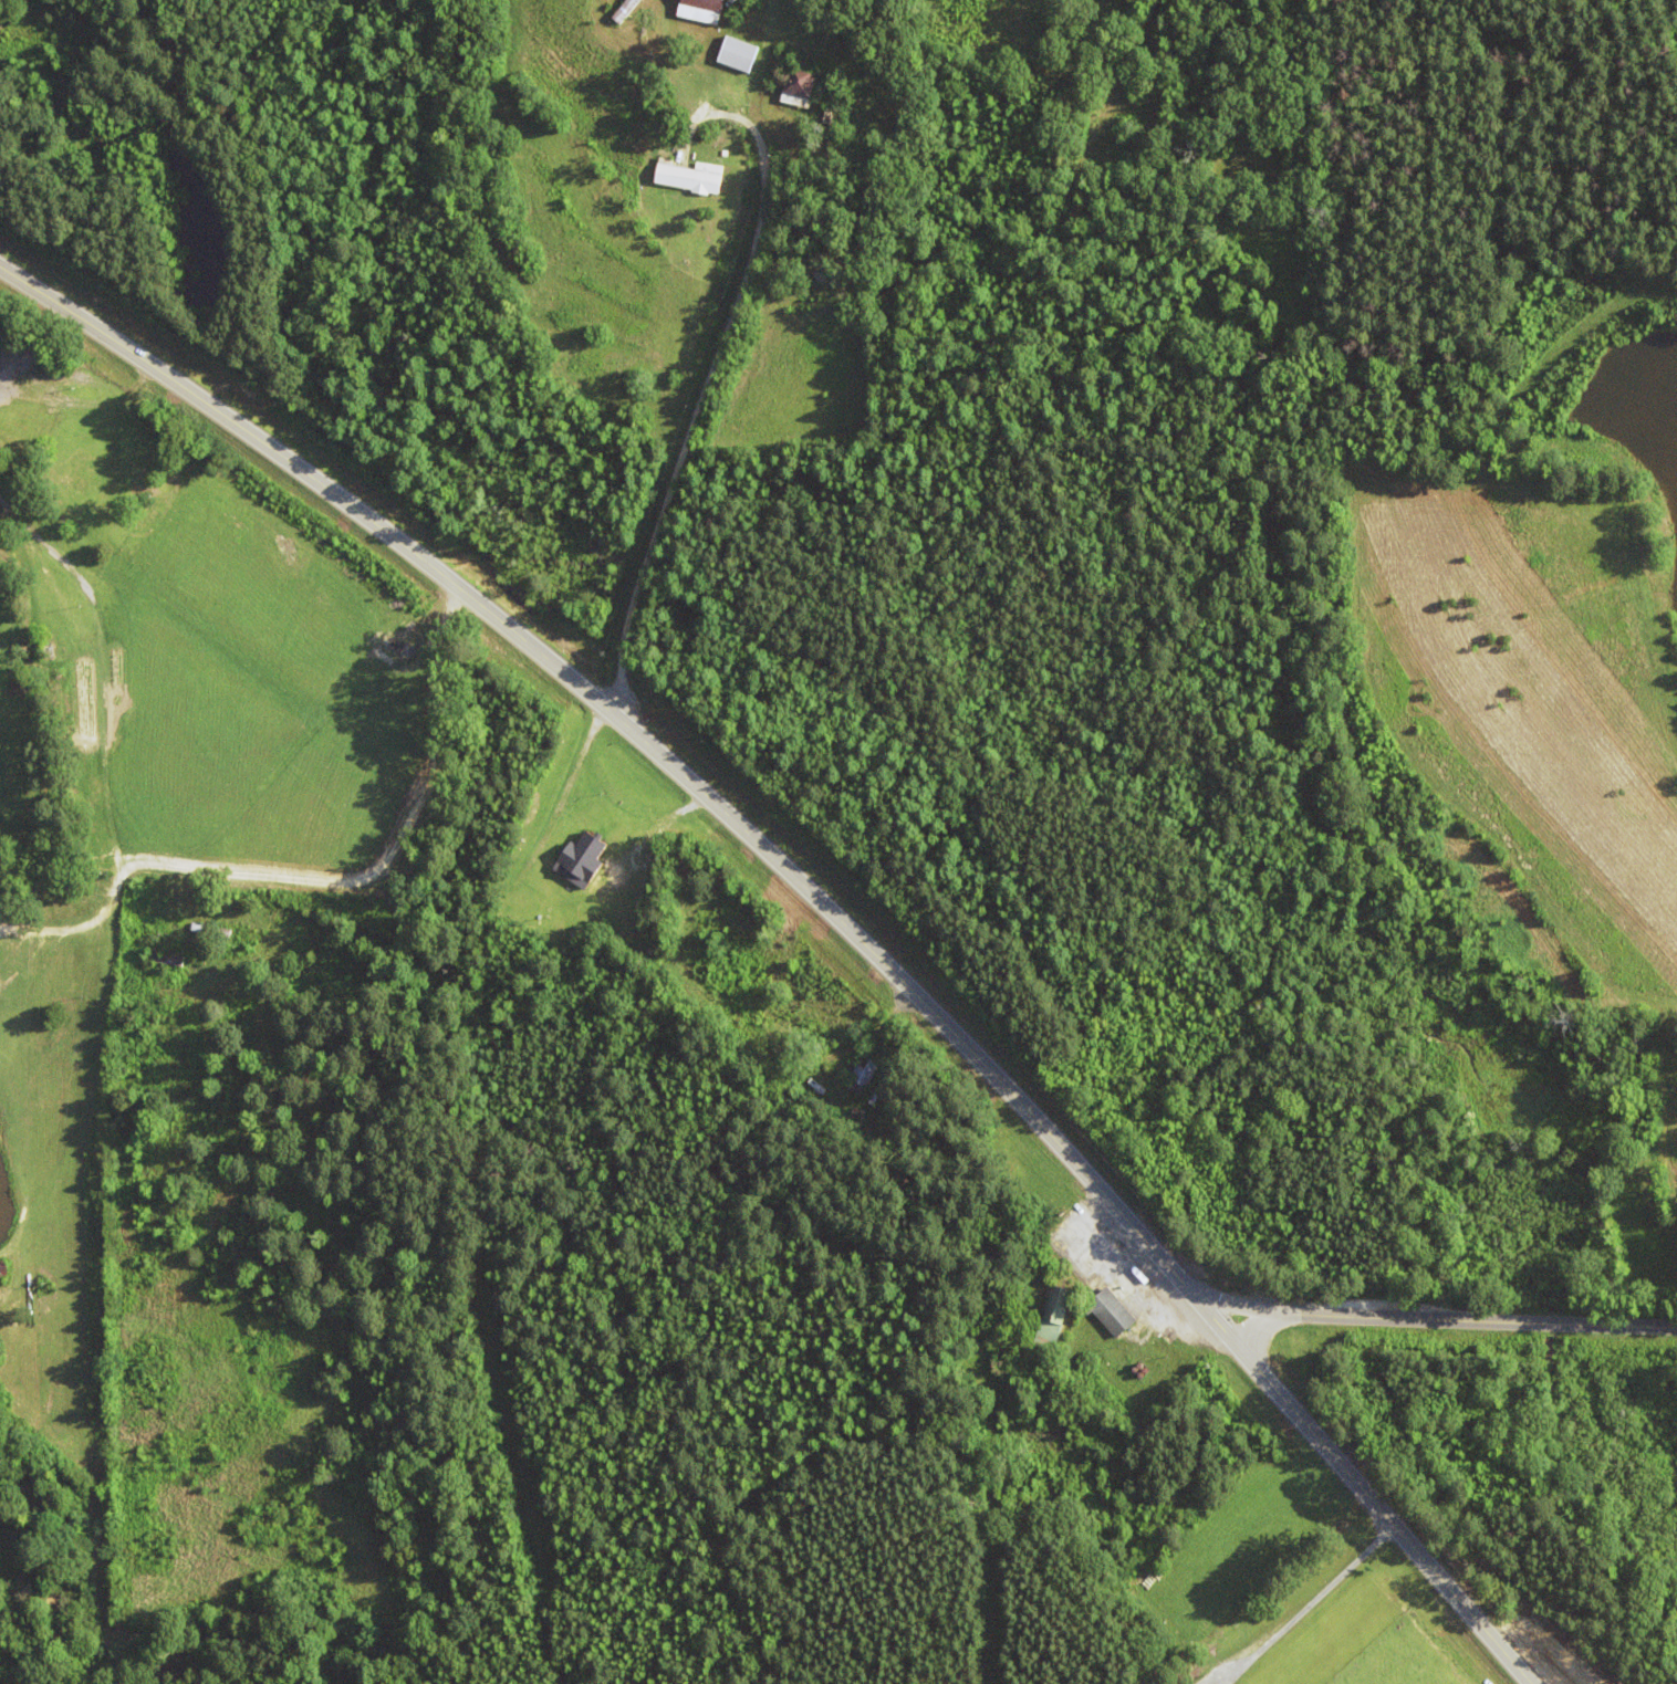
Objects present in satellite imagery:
road: (698, 414)
road: (825, 910)
road: (344, 939)
road: (1237, 1308)
road: (1450, 1321)

